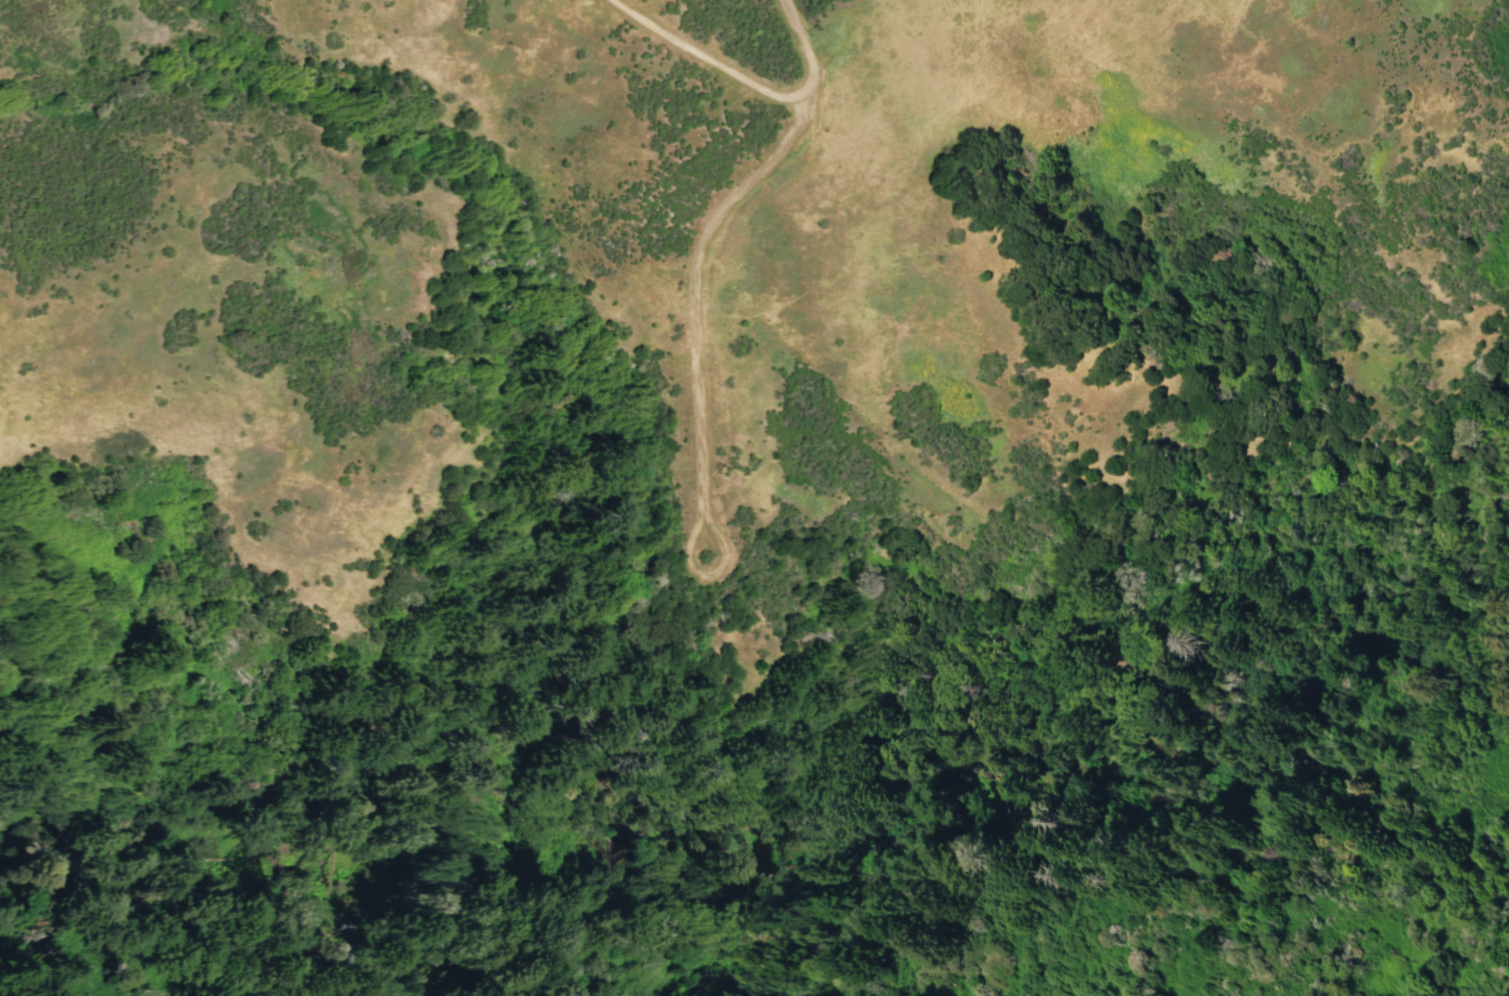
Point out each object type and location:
road: (748, 82)

